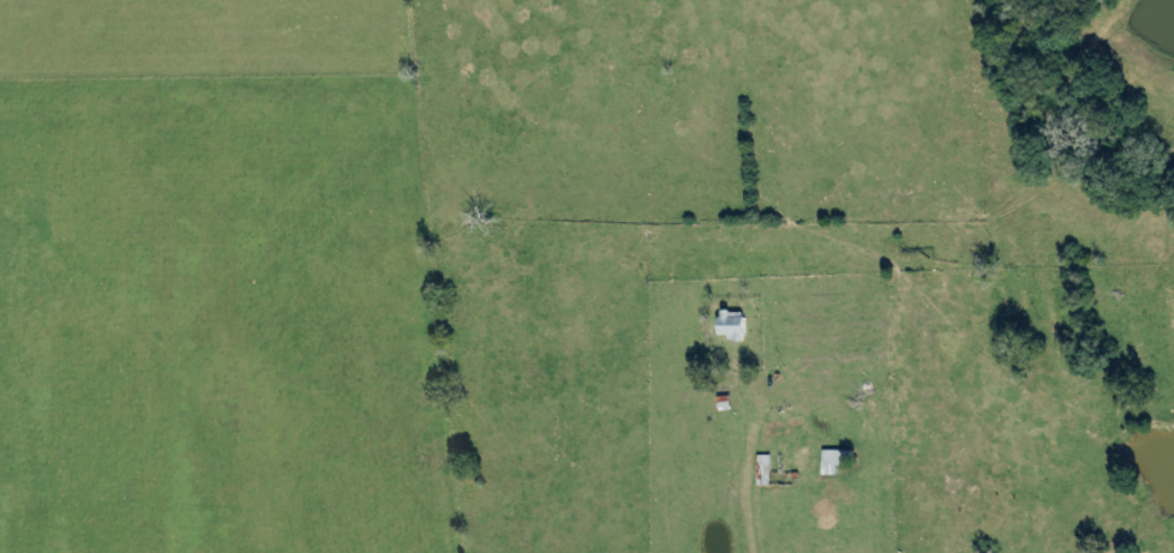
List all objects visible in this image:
building: (737, 326)
road: (938, 356)
building: (837, 462)

